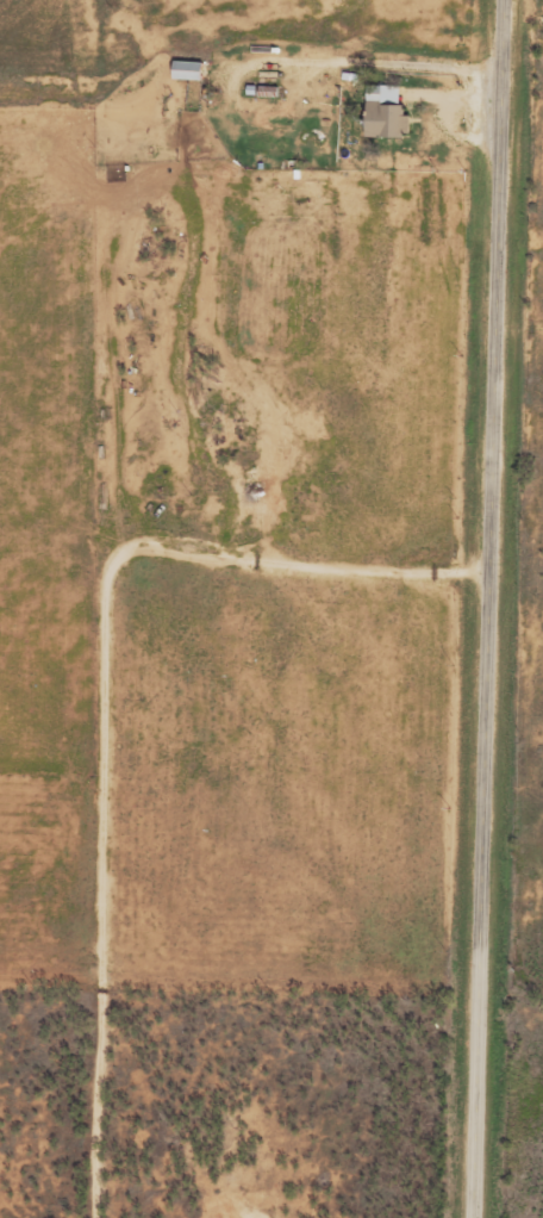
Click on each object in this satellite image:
road: (517, 5)
road: (489, 608)
road: (124, 742)

